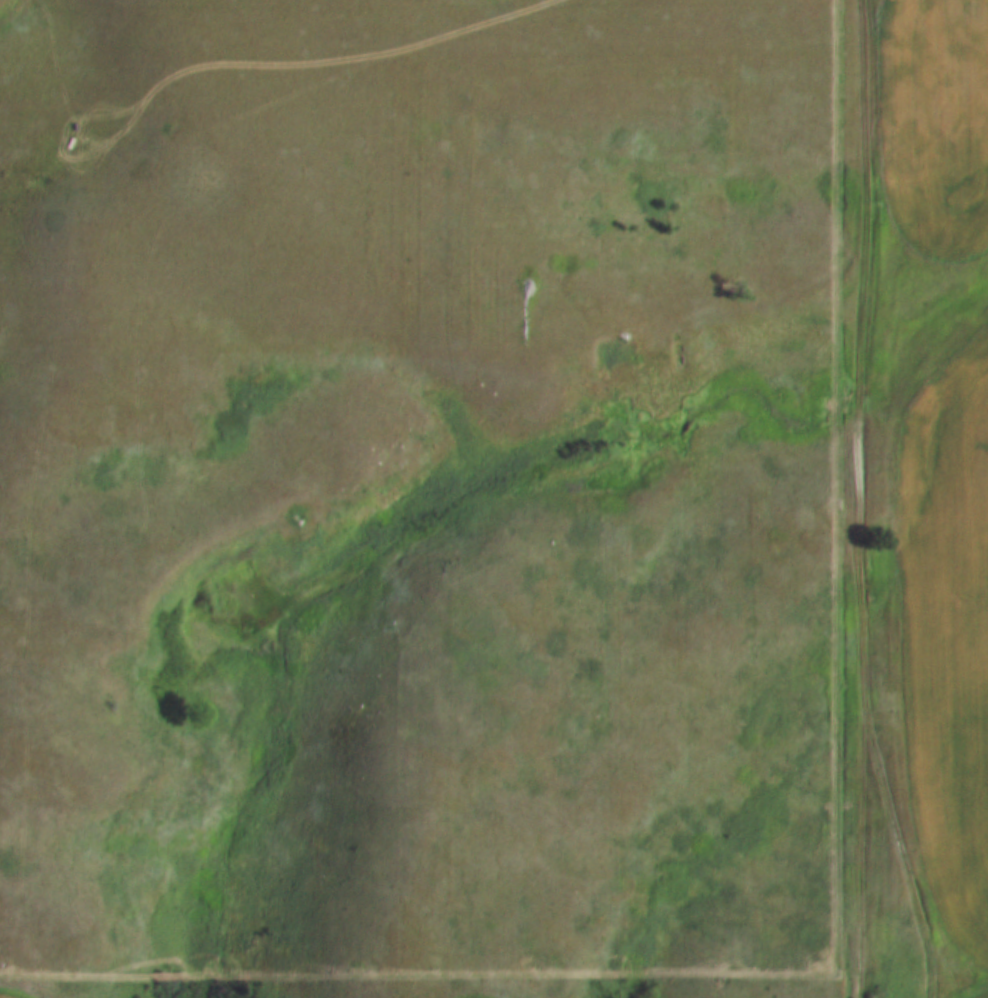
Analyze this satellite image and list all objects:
road: (861, 503)

